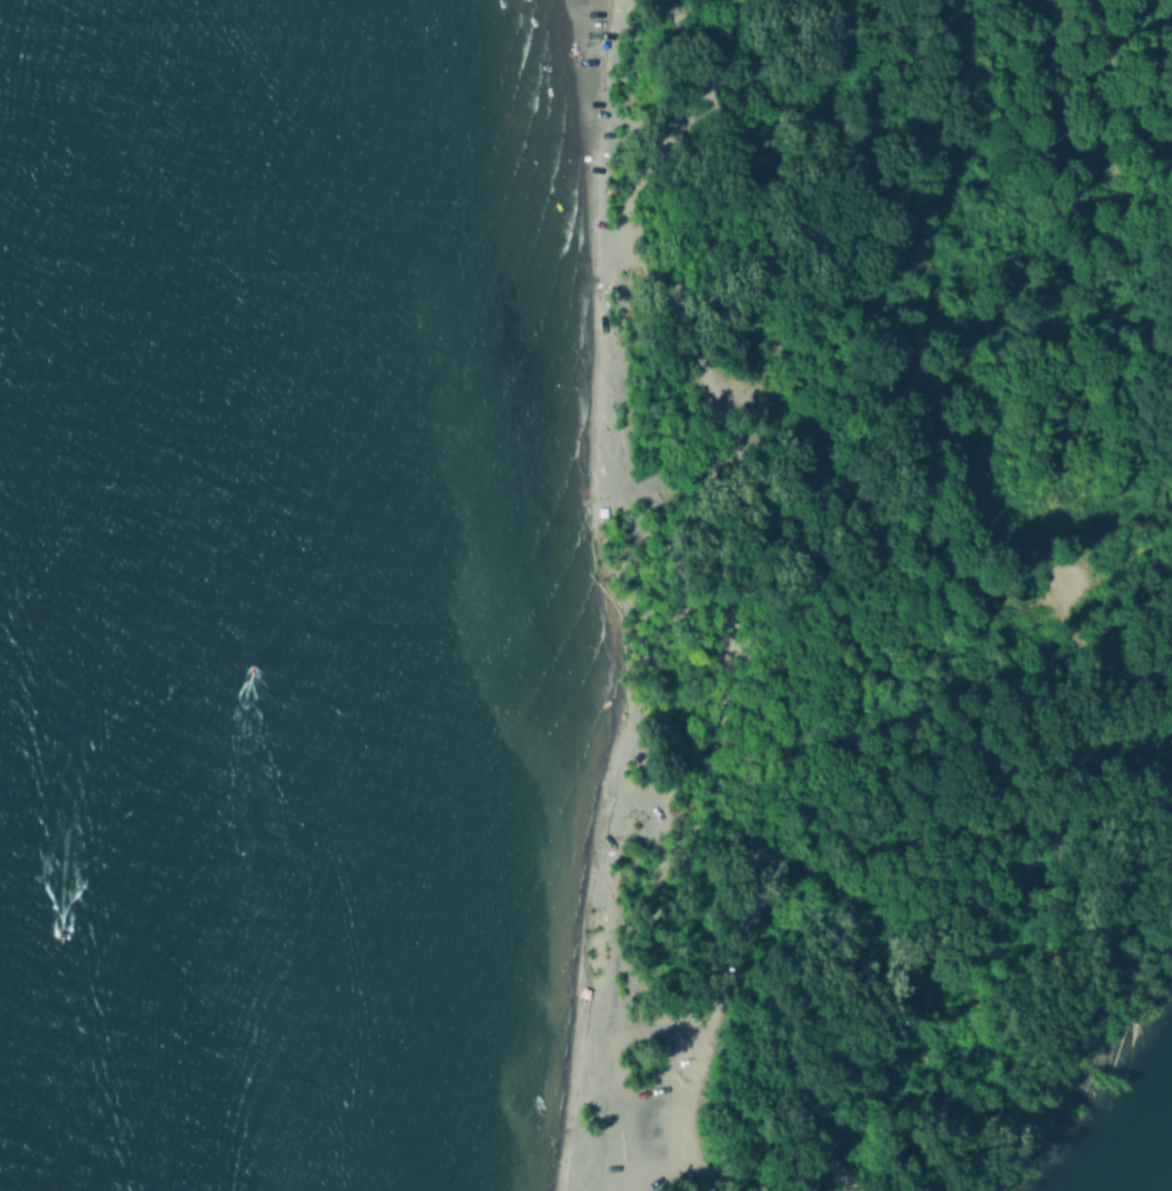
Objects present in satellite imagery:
road: (698, 40)
road: (764, 246)
road: (711, 379)
road: (1121, 416)
road: (1064, 539)
road: (866, 940)
road: (721, 967)

